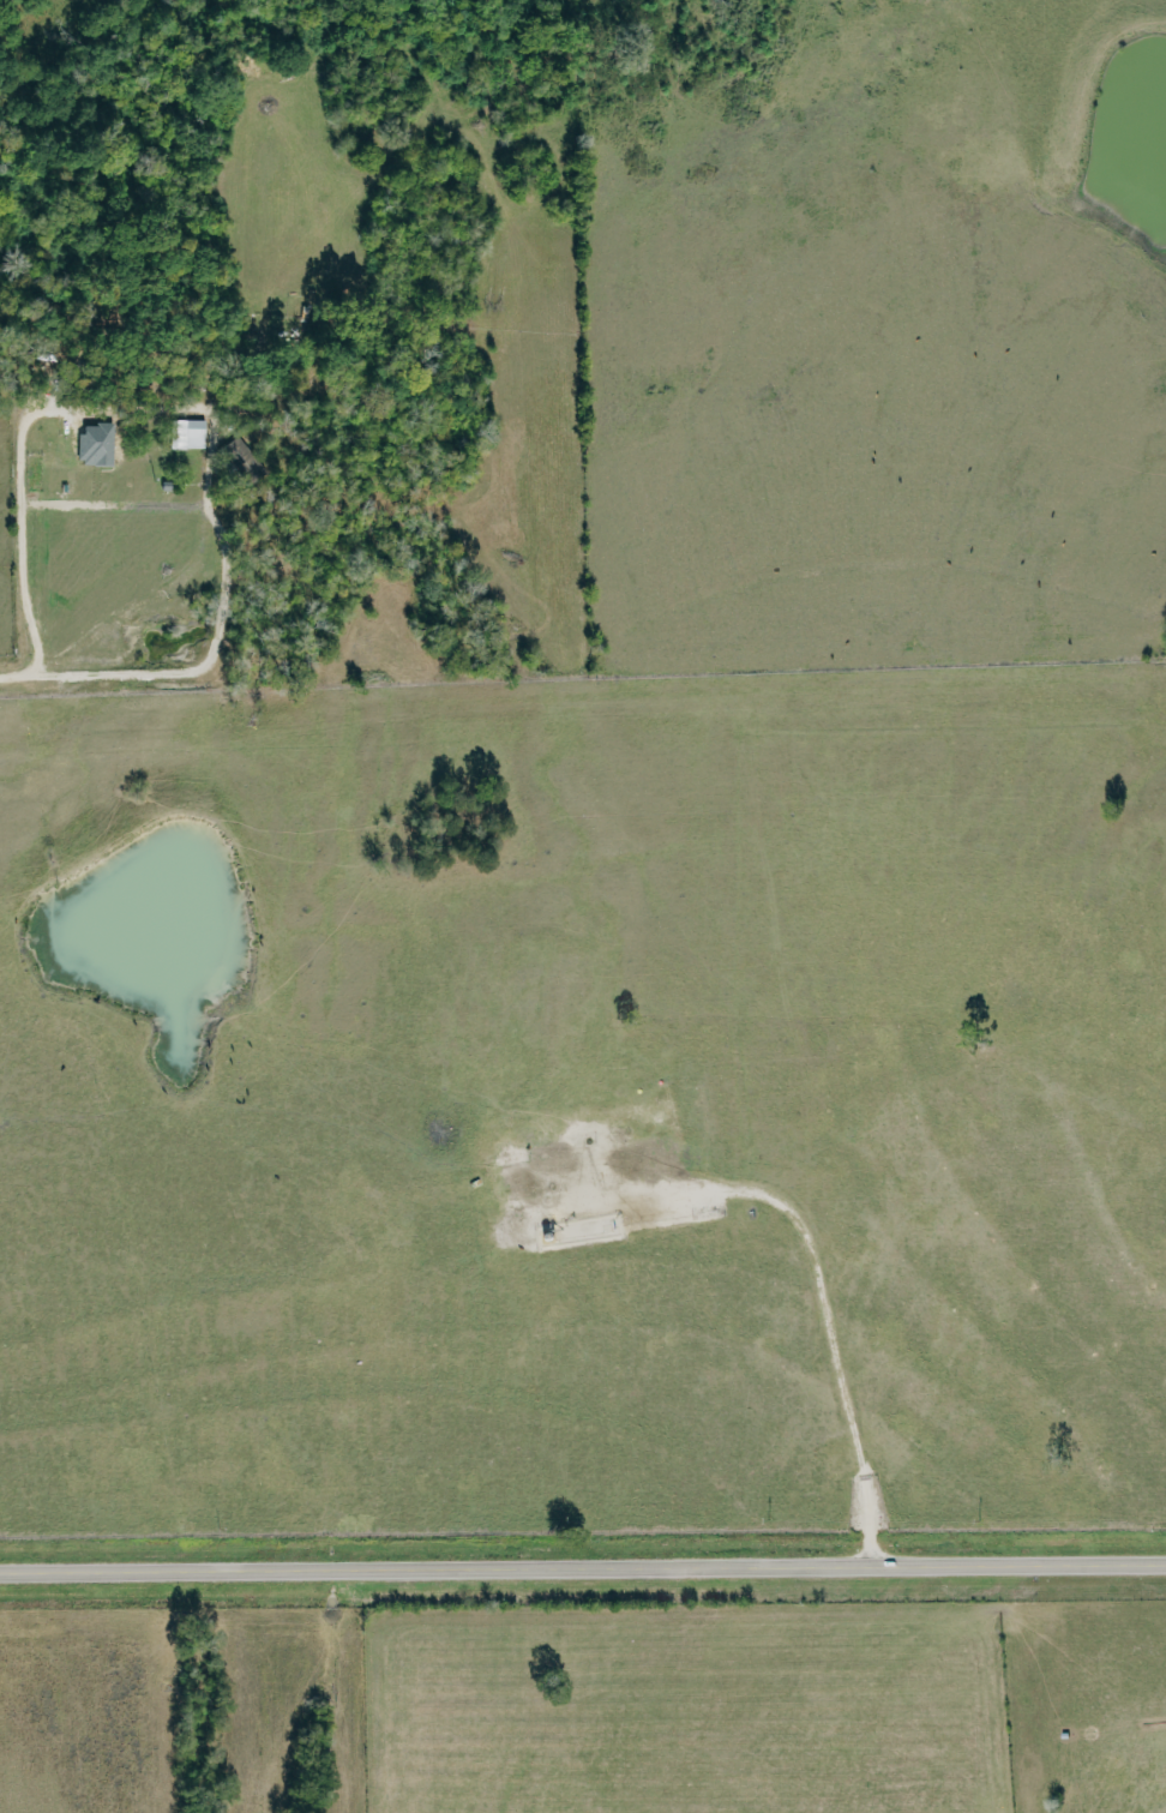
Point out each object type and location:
building: (188, 433)
building: (95, 444)
building: (244, 458)
road: (583, 1569)

